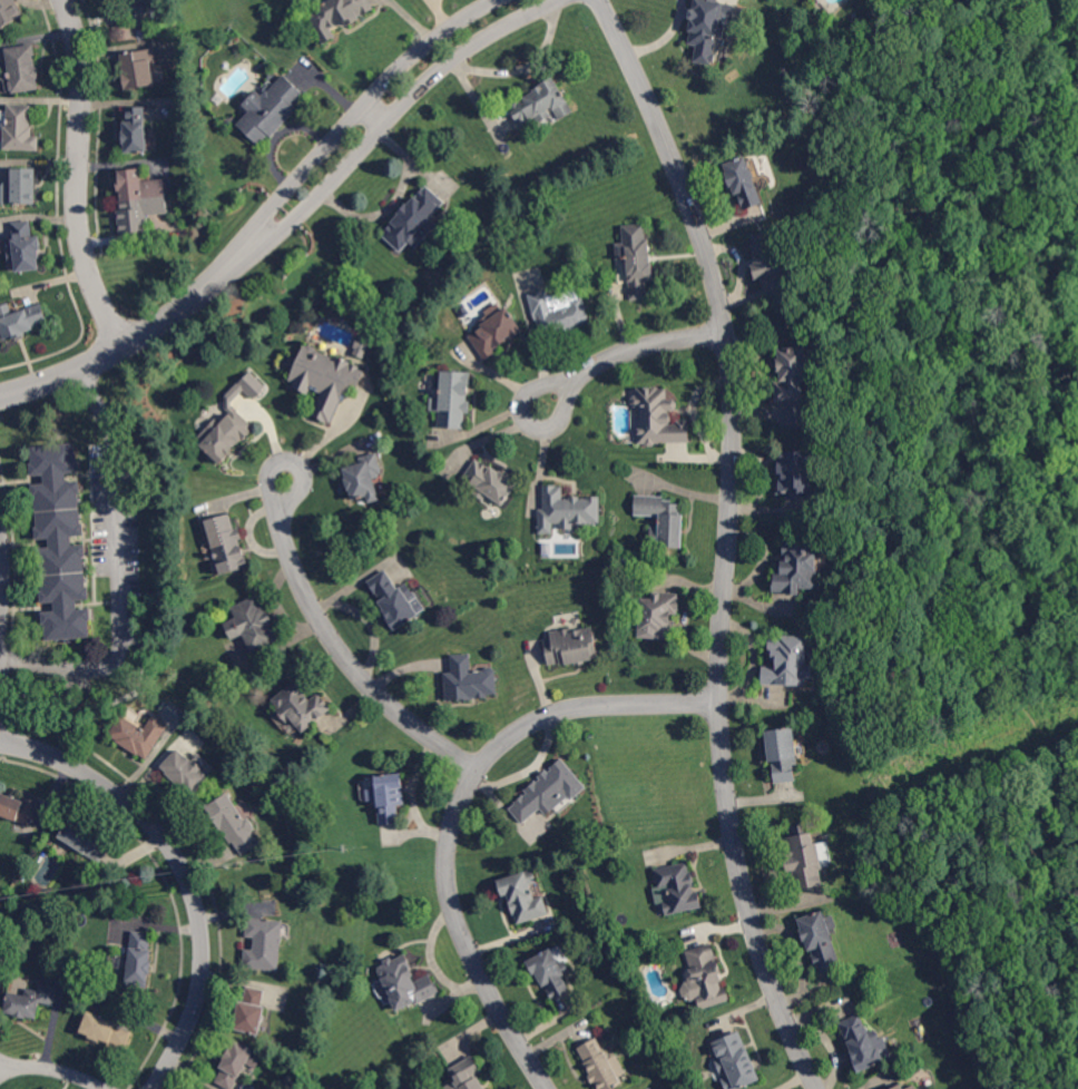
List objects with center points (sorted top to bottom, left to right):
building: (143, 8)
building: (10, 12)
building: (337, 16)
building: (708, 27)
building: (23, 67)
building: (139, 68)
building: (538, 105)
building: (271, 109)
building: (232, 121)
building: (20, 128)
building: (136, 129)
road: (79, 176)
building: (744, 181)
building: (24, 185)
building: (139, 200)
road: (278, 219)
building: (415, 220)
building: (24, 246)
building: (768, 254)
building: (637, 258)
building: (560, 312)
building: (21, 318)
building: (496, 331)
road: (725, 339)
building: (359, 347)
road: (628, 352)
building: (792, 373)
building: (322, 381)
building: (452, 400)
building: (659, 418)
building: (225, 434)
building: (797, 473)
building: (364, 477)
building: (490, 481)
building: (567, 509)
building: (663, 520)
building: (61, 542)
building: (226, 543)
road: (948, 543)
building: (798, 565)
road: (118, 568)
road: (0, 575)
road: (0, 578)
building: (396, 599)
building: (658, 616)
building: (255, 624)
building: (571, 646)
road: (339, 648)
building: (788, 663)
building: (469, 680)
building: (301, 705)
building: (139, 734)
building: (783, 754)
building: (186, 771)
building: (549, 791)
building: (388, 796)
building: (19, 806)
road: (458, 808)
building: (234, 823)
building: (86, 840)
building: (803, 857)
road: (185, 870)
building: (675, 890)
building: (523, 896)
road: (747, 900)
building: (822, 940)
building: (264, 943)
building: (140, 959)
building: (551, 972)
building: (707, 975)
building: (406, 983)
building: (31, 1002)
building: (252, 1011)
building: (105, 1029)
building: (862, 1044)
building: (237, 1062)
building: (735, 1062)
building: (601, 1065)
road: (53, 1068)
building: (467, 1075)
building: (899, 1087)
building: (913, 1087)

